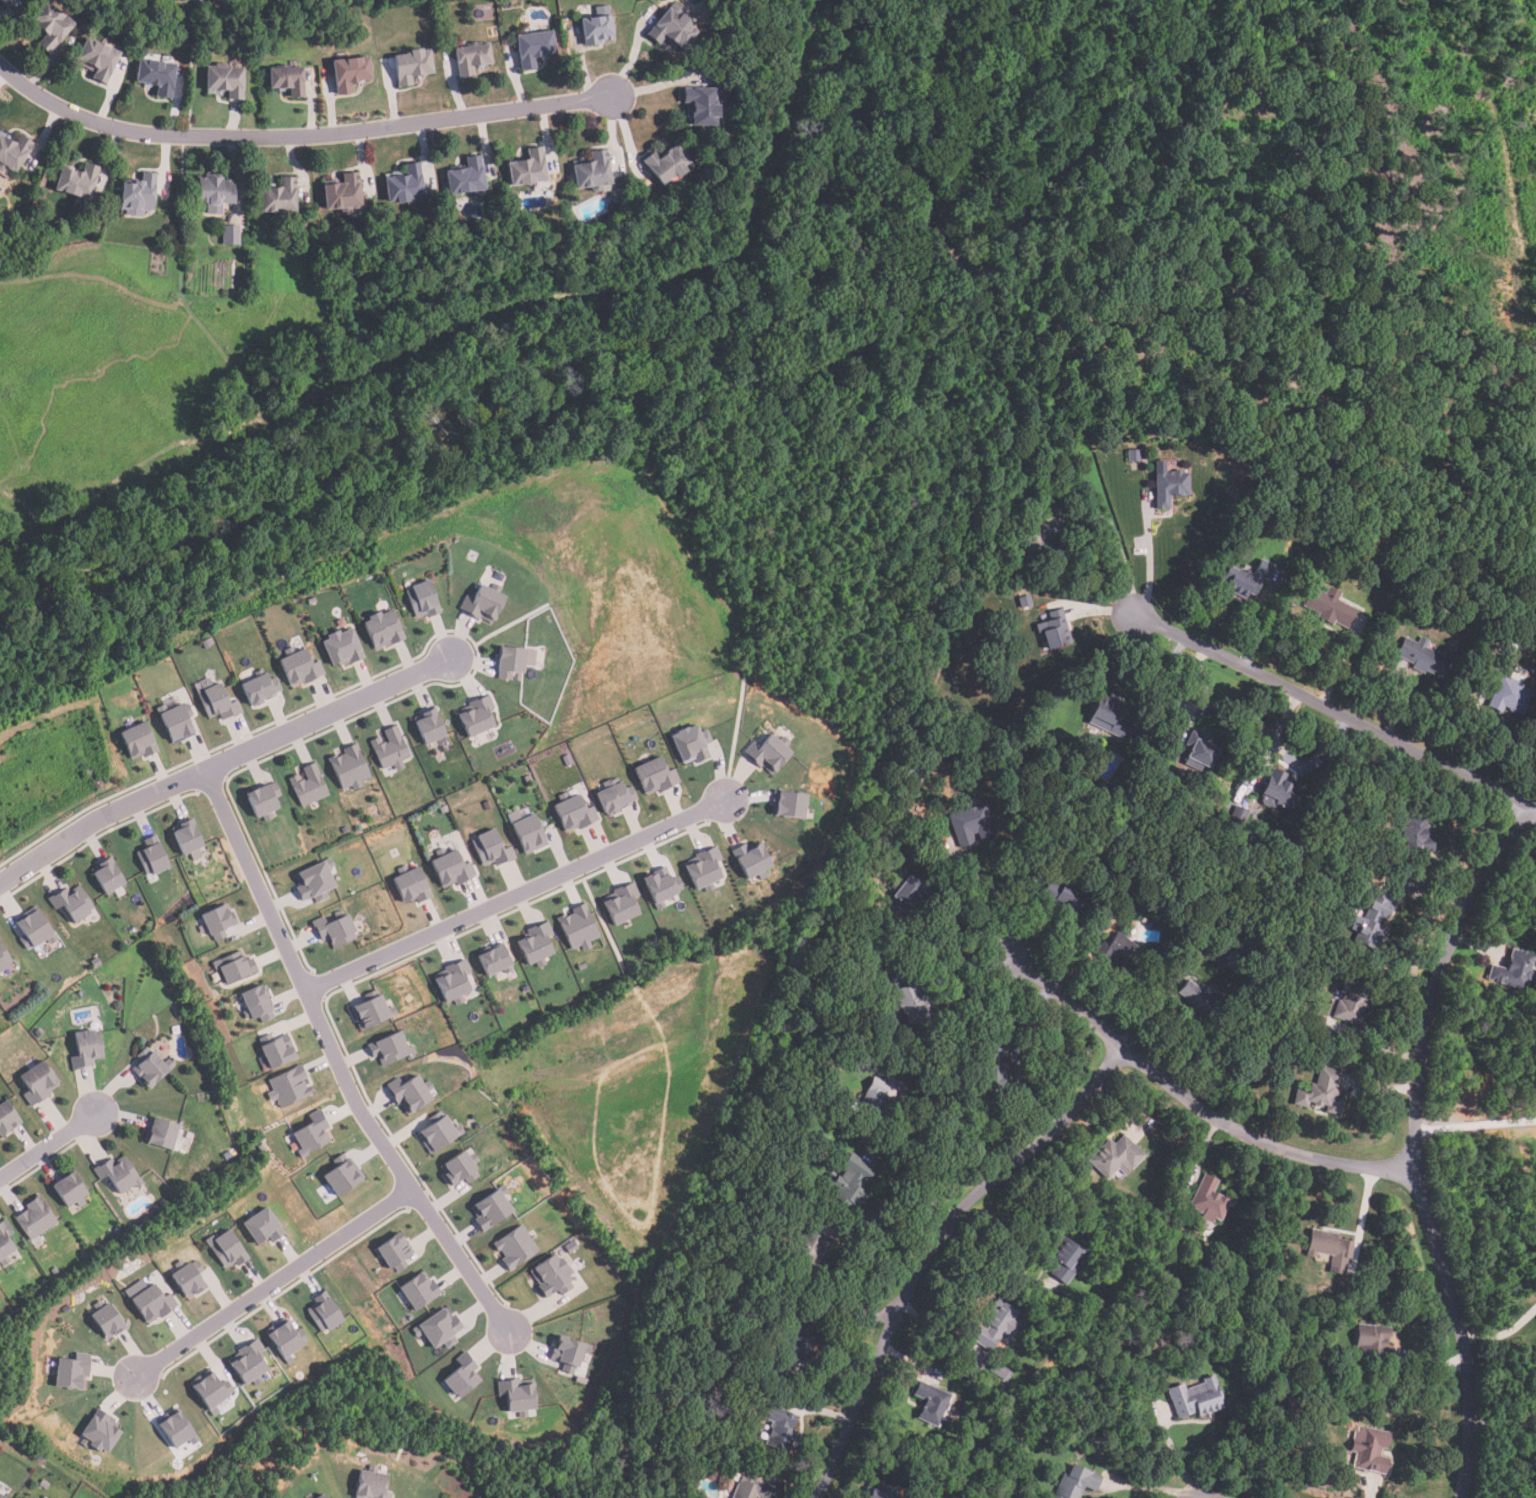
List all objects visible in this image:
building: (5, 2)
building: (51, 26)
building: (672, 29)
building: (596, 30)
building: (533, 48)
building: (471, 58)
building: (98, 59)
building: (724, 64)
building: (411, 66)
building: (350, 73)
building: (157, 76)
road: (3, 77)
building: (288, 80)
building: (225, 81)
building: (702, 105)
road: (296, 135)
building: (12, 152)
building: (665, 163)
building: (528, 168)
building: (592, 172)
building: (466, 177)
building: (77, 182)
building: (405, 184)
building: (214, 193)
building: (342, 194)
building: (139, 195)
building: (279, 197)
building: (230, 235)
building: (1132, 454)
building: (1168, 487)
building: (1033, 540)
road: (1121, 554)
road: (1151, 563)
building: (498, 576)
building: (1246, 579)
building: (423, 599)
building: (310, 600)
building: (1024, 601)
building: (482, 604)
building: (1328, 606)
road: (1106, 611)
building: (383, 629)
building: (1053, 629)
building: (1516, 640)
building: (207, 642)
building: (343, 647)
building: (1421, 657)
building: (514, 661)
building: (300, 667)
road: (1165, 677)
building: (260, 687)
building: (1509, 696)
building: (215, 700)
road: (1335, 710)
building: (478, 716)
building: (1108, 717)
building: (176, 719)
building: (430, 727)
building: (138, 741)
building: (693, 744)
building: (392, 749)
building: (1200, 750)
building: (770, 752)
road: (220, 762)
road: (1293, 763)
building: (349, 768)
building: (656, 776)
building: (912, 778)
building: (528, 779)
building: (309, 785)
building: (1280, 791)
building: (1366, 792)
building: (616, 796)
building: (264, 800)
building: (790, 804)
building: (488, 805)
building: (444, 809)
building: (1240, 810)
building: (575, 812)
building: (890, 824)
building: (970, 824)
building: (345, 830)
building: (528, 832)
building: (1416, 835)
building: (879, 837)
building: (188, 839)
building: (493, 851)
building: (152, 857)
building: (753, 861)
building: (452, 868)
building: (705, 869)
building: (107, 876)
building: (315, 881)
building: (411, 885)
building: (663, 886)
road: (516, 895)
building: (909, 896)
building: (1061, 896)
road: (1000, 898)
building: (72, 903)
building: (623, 903)
building: (218, 922)
building: (1371, 922)
building: (578, 928)
building: (34, 929)
building: (336, 930)
building: (838, 937)
building: (536, 944)
road: (959, 948)
building: (1119, 951)
building: (4, 959)
building: (1234, 959)
building: (494, 960)
building: (95, 962)
road: (956, 963)
building: (234, 966)
building: (581, 967)
building: (1512, 970)
building: (454, 982)
building: (524, 988)
building: (1198, 1001)
building: (256, 1005)
building: (1351, 1005)
building: (913, 1006)
building: (371, 1011)
building: (177, 1015)
building: (1313, 1023)
building: (38, 1033)
building: (86, 1049)
building: (391, 1049)
building: (1255, 1049)
building: (277, 1053)
road: (335, 1062)
building: (994, 1067)
building: (151, 1068)
building: (37, 1083)
building: (288, 1087)
building: (1321, 1091)
building: (410, 1093)
building: (873, 1102)
road: (1198, 1105)
building: (7, 1119)
road: (960, 1125)
building: (438, 1132)
building: (160, 1134)
building: (312, 1137)
road: (1421, 1142)
road: (46, 1145)
building: (262, 1148)
building: (227, 1155)
building: (1115, 1156)
building: (461, 1168)
building: (119, 1173)
building: (343, 1175)
building: (797, 1175)
building: (851, 1181)
building: (70, 1191)
building: (1208, 1198)
building: (163, 1203)
building: (492, 1210)
building: (35, 1218)
building: (263, 1227)
building: (117, 1232)
building: (5, 1243)
road: (930, 1246)
building: (516, 1247)
building: (572, 1247)
building: (228, 1249)
building: (1329, 1249)
building: (811, 1250)
building: (394, 1252)
building: (1065, 1260)
building: (54, 1271)
building: (553, 1276)
building: (189, 1278)
road: (273, 1284)
building: (1174, 1284)
building: (420, 1292)
building: (150, 1302)
building: (67, 1309)
building: (324, 1313)
building: (107, 1320)
building: (997, 1326)
building: (440, 1329)
building: (1163, 1330)
building: (800, 1335)
road: (1502, 1336)
building: (1167, 1338)
building: (285, 1340)
building: (1375, 1343)
building: (1174, 1352)
building: (570, 1353)
building: (765, 1359)
building: (699, 1360)
building: (248, 1363)
building: (73, 1372)
building: (1001, 1372)
building: (462, 1376)
building: (582, 1380)
building: (210, 1392)
building: (517, 1396)
building: (1197, 1397)
building: (1288, 1399)
building: (932, 1402)
road: (1505, 1424)
building: (780, 1427)
building: (176, 1429)
building: (100, 1432)
building: (1370, 1448)
building: (997, 1449)
road: (1174, 1456)
building: (1076, 1481)
building: (1016, 1482)
building: (43, 1483)
building: (372, 1485)
road: (1147, 1487)
building: (753, 1488)
building: (880, 1491)
building: (2, 1495)
building: (257, 1496)
building: (321, 1496)

